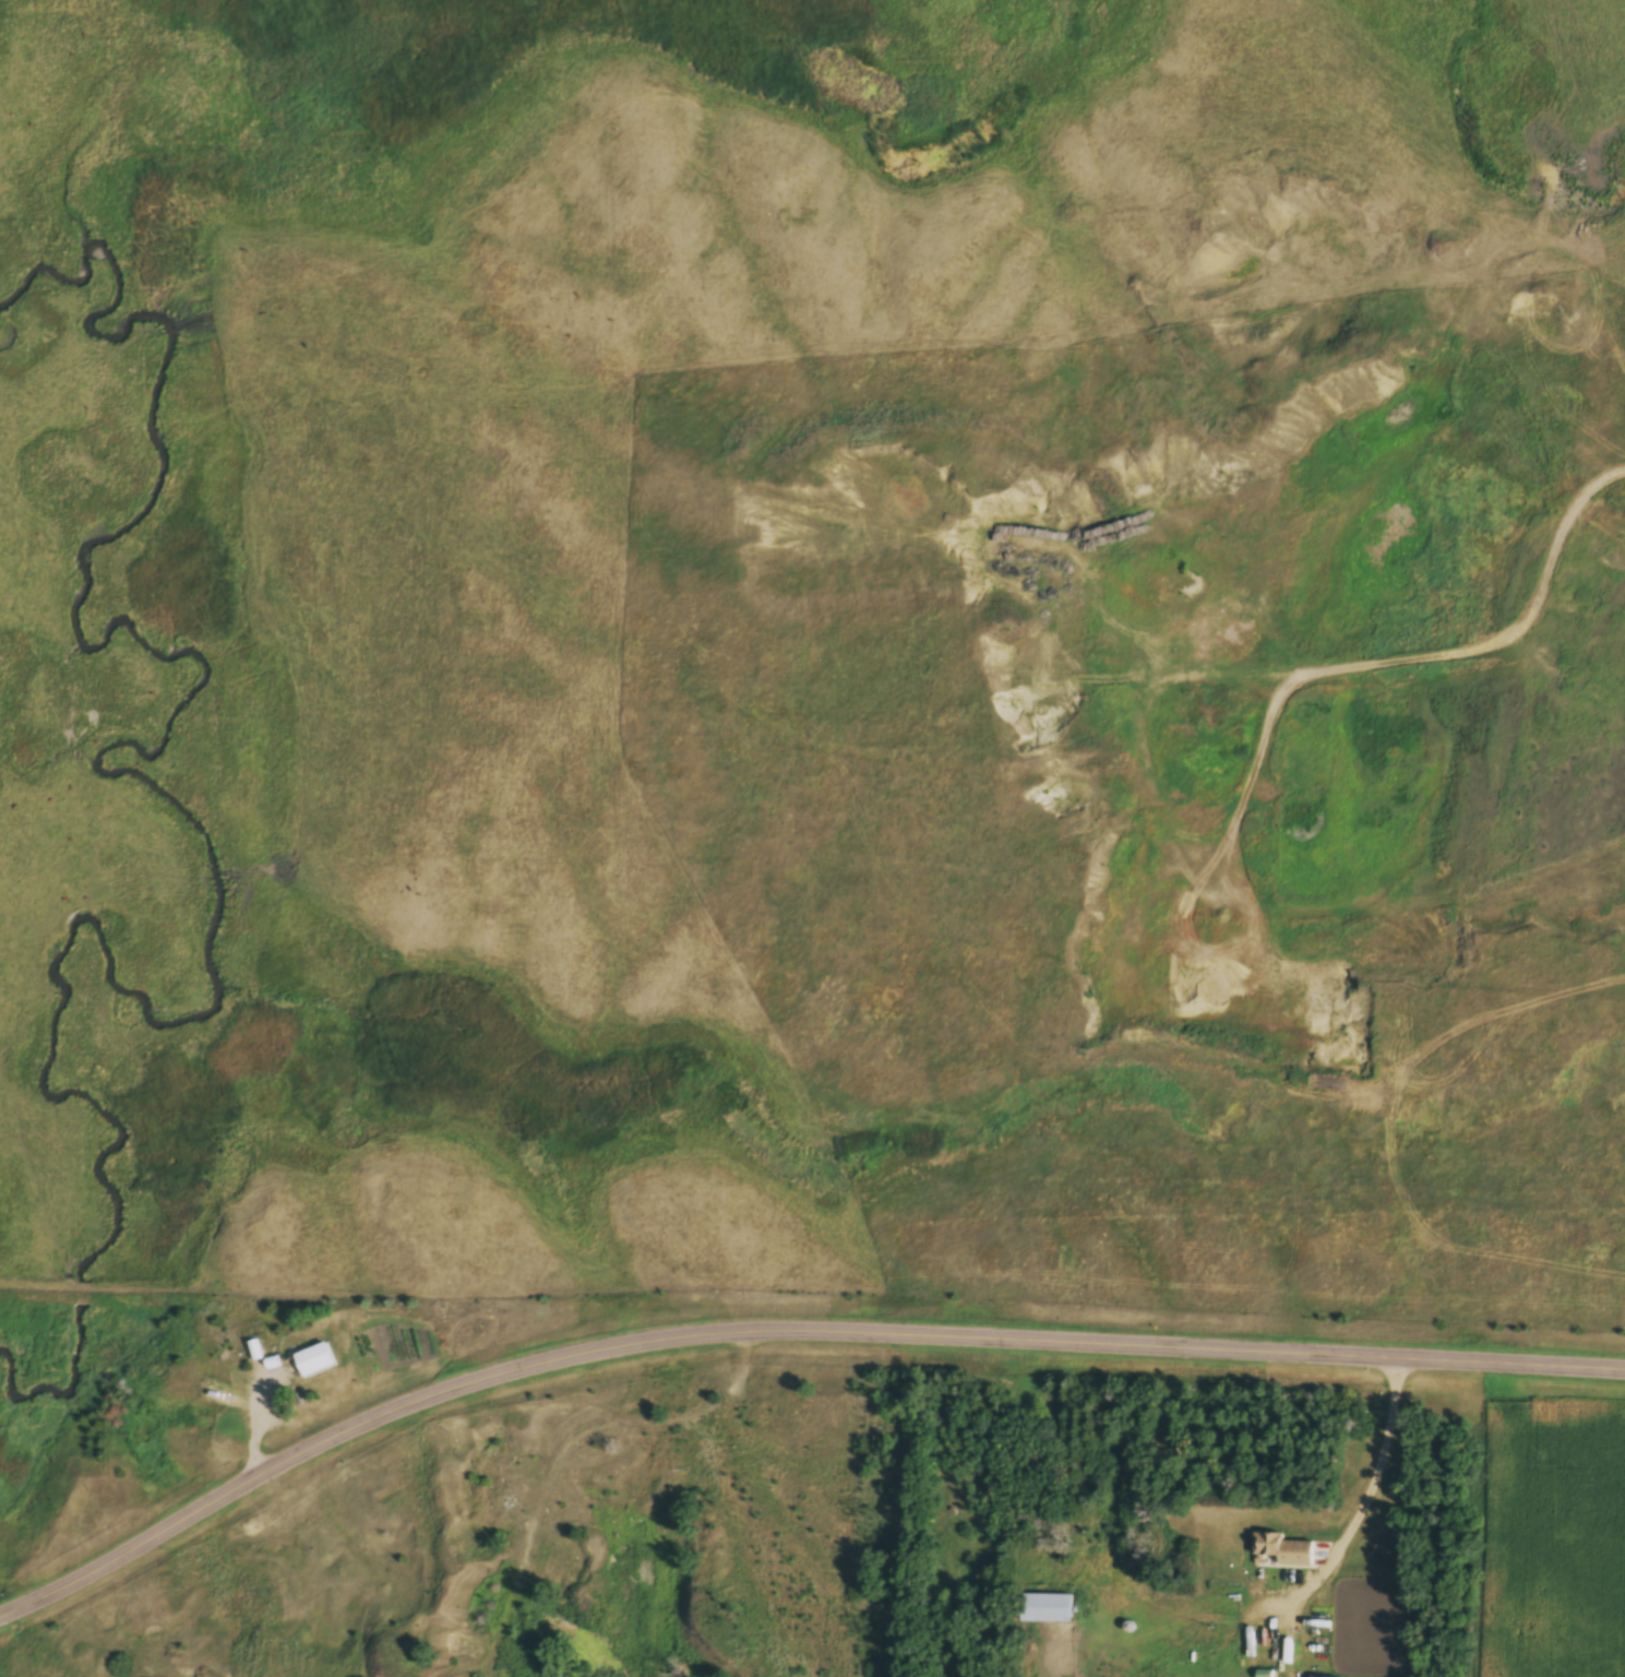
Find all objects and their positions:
road: (784, 1339)
building: (263, 1351)
building: (314, 1361)
road: (1375, 1478)
building: (1280, 1550)
building: (1044, 1608)

